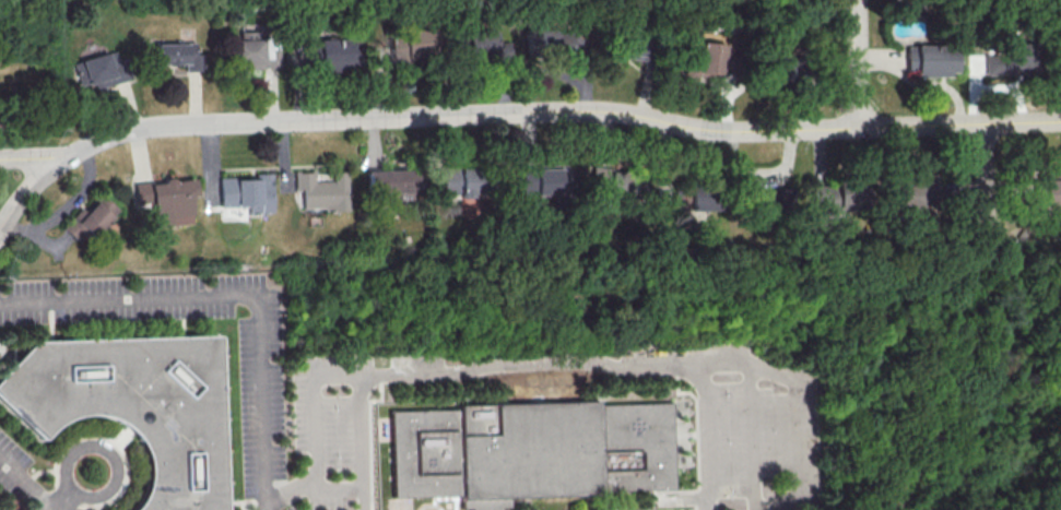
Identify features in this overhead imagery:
building: (417, 38)
building: (553, 39)
building: (481, 43)
building: (1059, 46)
building: (335, 52)
building: (177, 55)
building: (251, 55)
building: (931, 59)
building: (1009, 59)
road: (859, 63)
building: (779, 67)
building: (99, 69)
road: (528, 110)
building: (0, 117)
building: (461, 180)
building: (543, 180)
building: (625, 181)
road: (981, 182)
building: (391, 183)
road: (30, 186)
building: (1051, 189)
building: (320, 190)
building: (246, 192)
building: (818, 193)
building: (913, 193)
building: (849, 197)
building: (694, 198)
building: (771, 198)
building: (166, 200)
building: (90, 218)
road: (234, 297)
road: (498, 372)
road: (1003, 375)
road: (795, 402)
building: (129, 406)
road: (927, 410)
road: (752, 437)
road: (364, 443)
building: (529, 451)
road: (27, 484)
road: (333, 486)
road: (83, 493)
road: (70, 500)
building: (483, 505)

